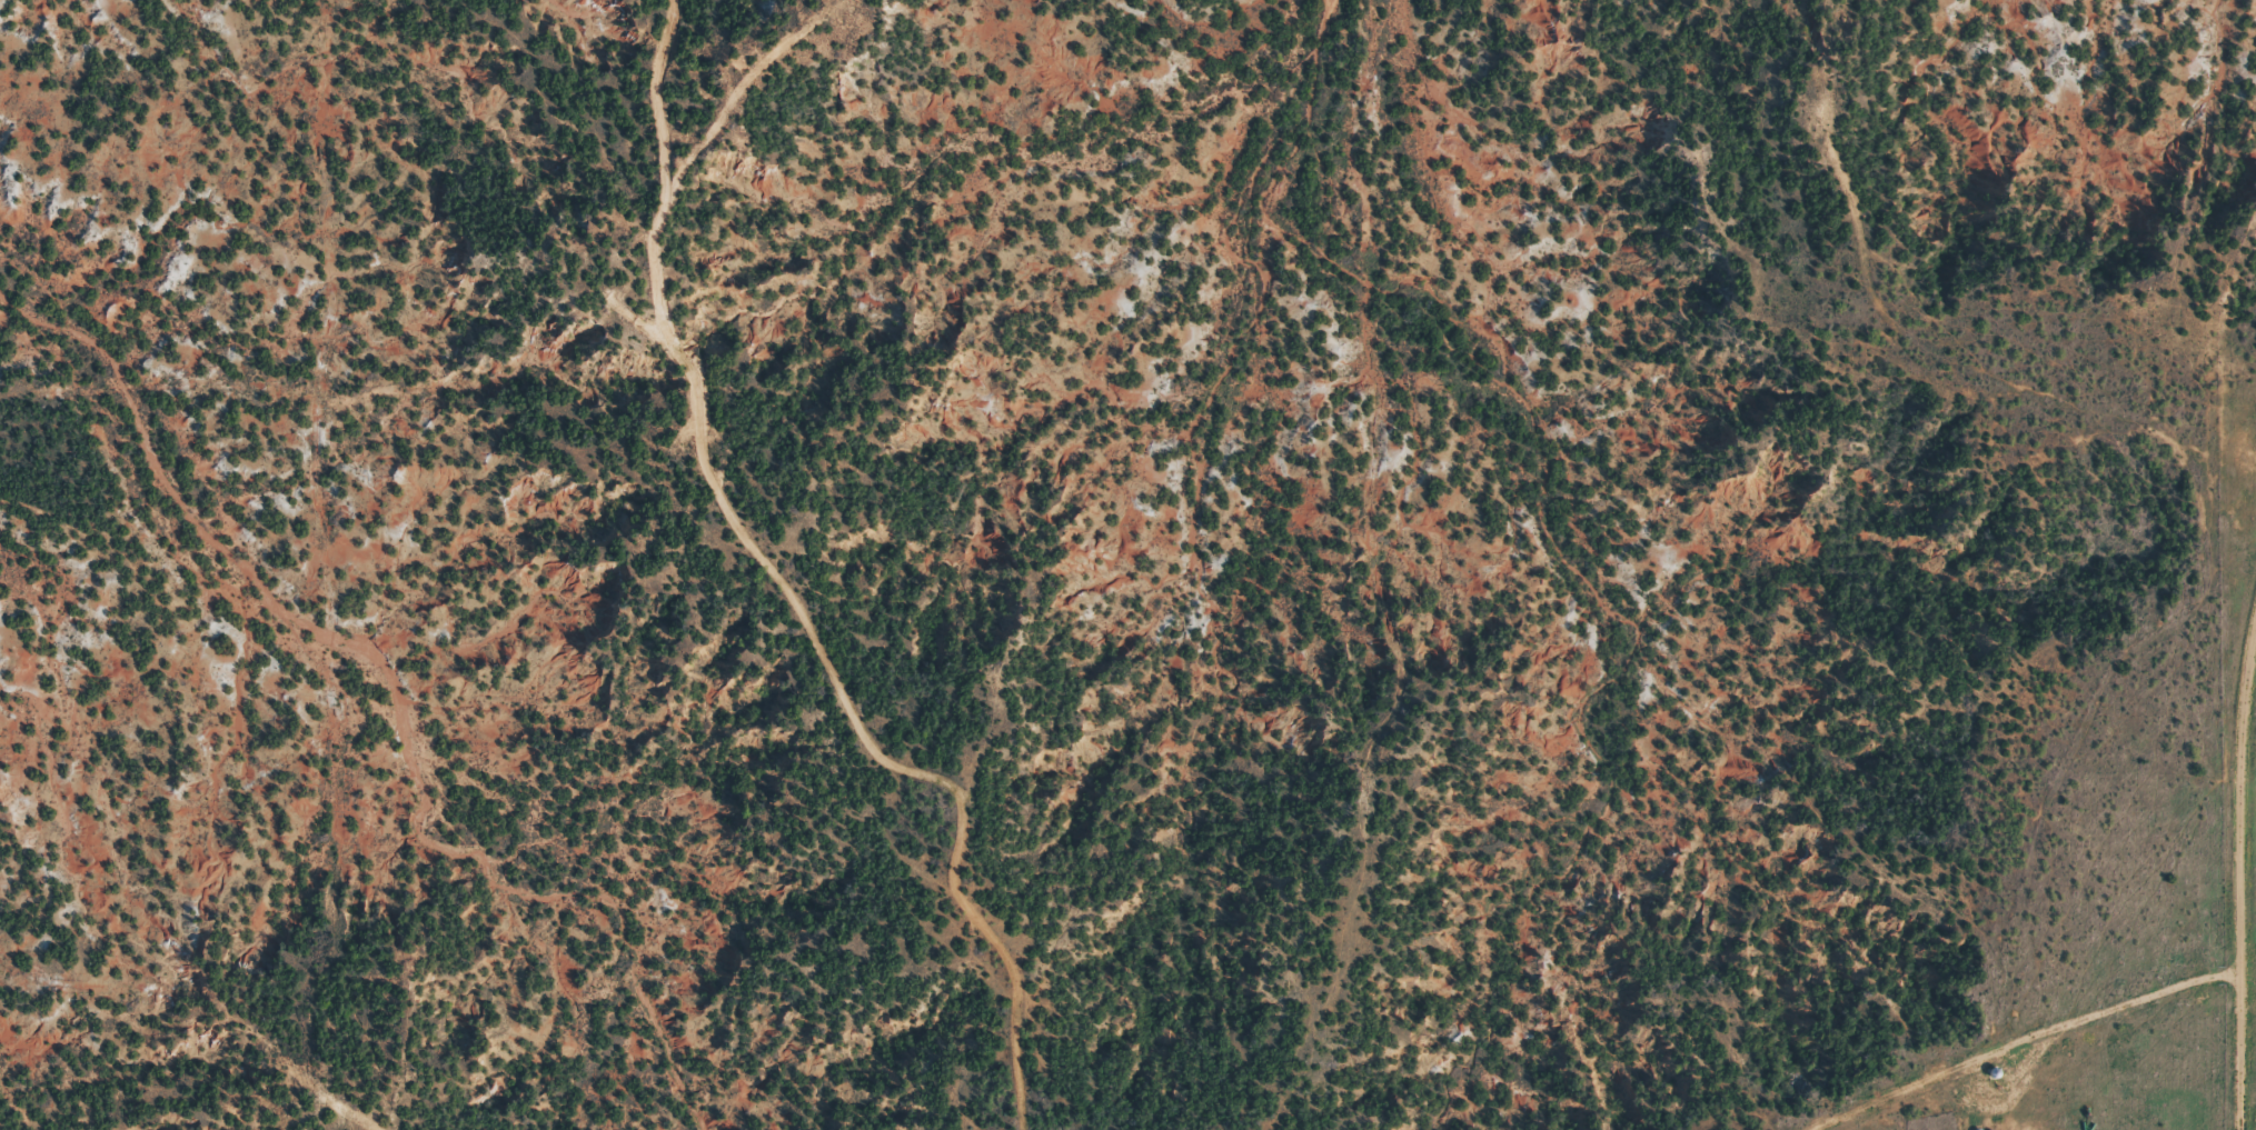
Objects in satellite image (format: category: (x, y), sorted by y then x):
road: (2245, 892)

